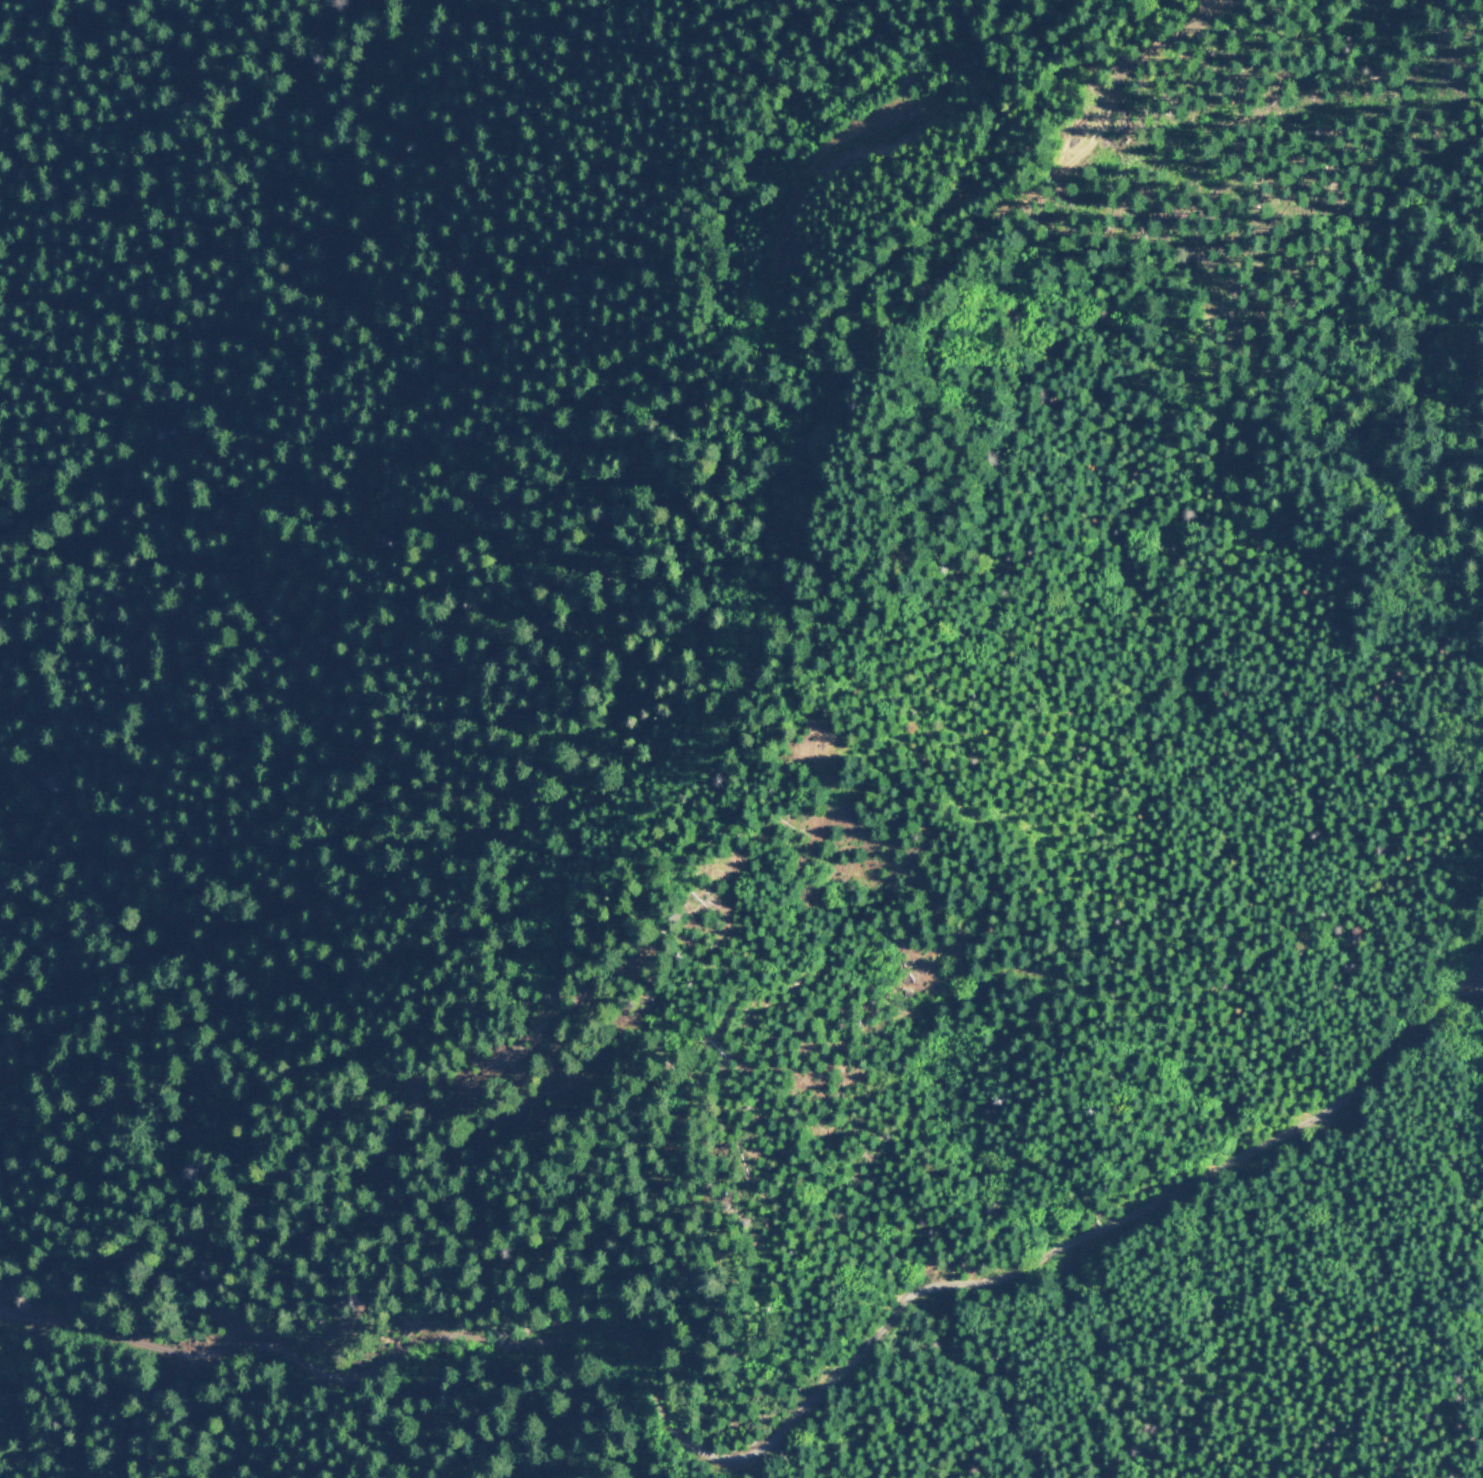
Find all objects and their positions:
road: (1471, 979)

